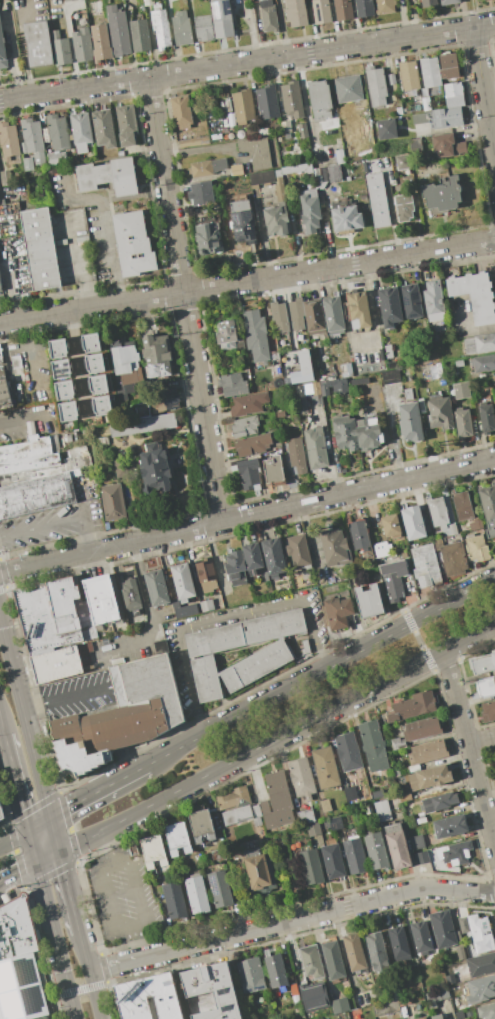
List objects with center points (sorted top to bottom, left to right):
building: (68, 0)
building: (449, 1)
building: (148, 2)
building: (428, 3)
building: (385, 6)
building: (364, 8)
building: (343, 10)
building: (321, 11)
building: (297, 13)
building: (268, 16)
building: (221, 18)
building: (161, 28)
building: (181, 28)
building: (203, 28)
building: (118, 31)
building: (140, 35)
building: (101, 42)
building: (38, 43)
building: (82, 45)
road: (22, 47)
building: (60, 48)
building: (2, 51)
road: (247, 63)
building: (449, 68)
building: (430, 72)
building: (408, 75)
building: (391, 79)
building: (376, 85)
building: (348, 89)
building: (452, 89)
road: (484, 94)
building: (292, 99)
building: (320, 100)
building: (455, 101)
building: (267, 102)
road: (304, 102)
building: (426, 104)
building: (243, 105)
building: (404, 106)
building: (182, 110)
building: (398, 110)
building: (420, 118)
building: (445, 120)
building: (126, 125)
road: (320, 125)
building: (285, 126)
building: (104, 128)
building: (302, 129)
building: (386, 129)
building: (81, 131)
building: (57, 132)
building: (8, 140)
building: (32, 140)
building: (193, 141)
building: (451, 145)
building: (256, 151)
building: (56, 158)
building: (403, 162)
building: (28, 164)
building: (207, 167)
building: (236, 169)
building: (298, 169)
building: (327, 175)
building: (92, 176)
building: (123, 177)
building: (261, 177)
building: (279, 180)
building: (279, 190)
building: (201, 193)
building: (441, 196)
building: (378, 200)
building: (404, 208)
building: (309, 209)
road: (392, 212)
building: (276, 218)
road: (102, 219)
building: (345, 219)
building: (244, 223)
building: (209, 239)
building: (133, 244)
building: (40, 249)
road: (73, 264)
road: (247, 281)
building: (0, 287)
building: (475, 295)
building: (433, 297)
road: (185, 299)
building: (411, 301)
building: (389, 306)
road: (373, 307)
building: (358, 310)
building: (333, 314)
building: (288, 315)
building: (314, 317)
road: (469, 331)
building: (256, 335)
building: (228, 336)
building: (91, 342)
building: (479, 344)
building: (57, 348)
road: (31, 353)
building: (156, 355)
building: (125, 358)
building: (15, 361)
building: (95, 363)
building: (458, 363)
building: (484, 363)
building: (276, 364)
building: (391, 364)
building: (61, 369)
building: (345, 371)
building: (390, 376)
building: (302, 378)
building: (493, 380)
building: (98, 384)
building: (233, 385)
building: (4, 386)
building: (326, 388)
building: (64, 390)
building: (461, 390)
building: (373, 395)
building: (164, 399)
building: (316, 400)
building: (248, 403)
building: (102, 405)
building: (142, 410)
building: (68, 411)
building: (440, 413)
building: (280, 414)
road: (30, 415)
building: (487, 418)
building: (410, 422)
building: (463, 423)
building: (143, 425)
building: (244, 426)
building: (343, 433)
building: (369, 435)
building: (252, 444)
building: (315, 447)
building: (296, 456)
building: (273, 469)
building: (155, 471)
building: (249, 473)
building: (38, 475)
building: (112, 502)
building: (462, 505)
building: (488, 508)
building: (438, 512)
road: (247, 515)
road: (60, 522)
building: (413, 523)
parking lot: (50, 525)
building: (390, 525)
building: (450, 531)
building: (358, 534)
building: (335, 547)
building: (477, 548)
building: (381, 549)
building: (298, 550)
building: (273, 557)
building: (252, 558)
building: (401, 559)
building: (453, 559)
building: (425, 566)
building: (236, 568)
building: (207, 575)
building: (182, 581)
building: (392, 585)
building: (156, 587)
building: (130, 595)
building: (102, 598)
building: (368, 601)
building: (206, 605)
road: (148, 607)
building: (337, 613)
building: (49, 614)
road: (224, 617)
building: (245, 633)
road: (419, 641)
building: (159, 646)
building: (305, 649)
building: (56, 664)
building: (483, 664)
building: (255, 665)
road: (320, 672)
building: (206, 679)
building: (486, 687)
parking lot: (75, 695)
road: (67, 696)
building: (412, 706)
building: (488, 711)
building: (121, 715)
road: (25, 720)
road: (2, 725)
road: (295, 727)
building: (422, 729)
road: (482, 740)
building: (396, 744)
building: (373, 746)
road: (470, 749)
building: (348, 751)
building: (427, 751)
building: (494, 751)
building: (325, 767)
building: (429, 777)
building: (301, 778)
road: (16, 783)
road: (97, 791)
building: (350, 793)
building: (378, 794)
building: (404, 794)
building: (233, 799)
building: (276, 802)
building: (438, 802)
building: (325, 806)
building: (257, 811)
building: (382, 811)
building: (1, 812)
building: (237, 816)
building: (306, 817)
traffic signals: (50, 818)
building: (1, 819)
building: (257, 821)
road: (39, 824)
building: (450, 826)
building: (202, 829)
building: (314, 829)
traffic signals: (29, 831)
road: (54, 835)
building: (177, 838)
road: (14, 840)
building: (417, 842)
road: (76, 843)
building: (397, 845)
road: (33, 846)
road: (102, 847)
building: (376, 849)
building: (153, 851)
traffic signals: (58, 853)
building: (455, 853)
building: (355, 855)
building: (219, 856)
road: (47, 857)
building: (422, 857)
building: (332, 858)
traffic signals: (37, 862)
building: (311, 867)
building: (259, 870)
road: (18, 871)
building: (220, 889)
road: (68, 892)
building: (197, 894)
parking lot: (122, 897)
building: (174, 900)
road: (290, 921)
road: (133, 925)
building: (463, 925)
building: (443, 929)
building: (481, 933)
building: (421, 937)
road: (57, 940)
building: (399, 944)
road: (341, 948)
building: (376, 951)
building: (354, 952)
building: (460, 953)
building: (333, 960)
building: (311, 961)
building: (19, 963)
building: (481, 964)
building: (276, 970)
road: (89, 975)
building: (250, 975)
building: (453, 979)
road: (81, 989)
building: (213, 990)
building: (481, 990)
building: (394, 993)
building: (313, 996)
building: (436, 997)
building: (149, 998)
building: (339, 1005)
building: (385, 1007)
building: (486, 1011)
building: (468, 1012)
building: (459, 1015)
building: (437, 1017)
building: (421, 1018)

